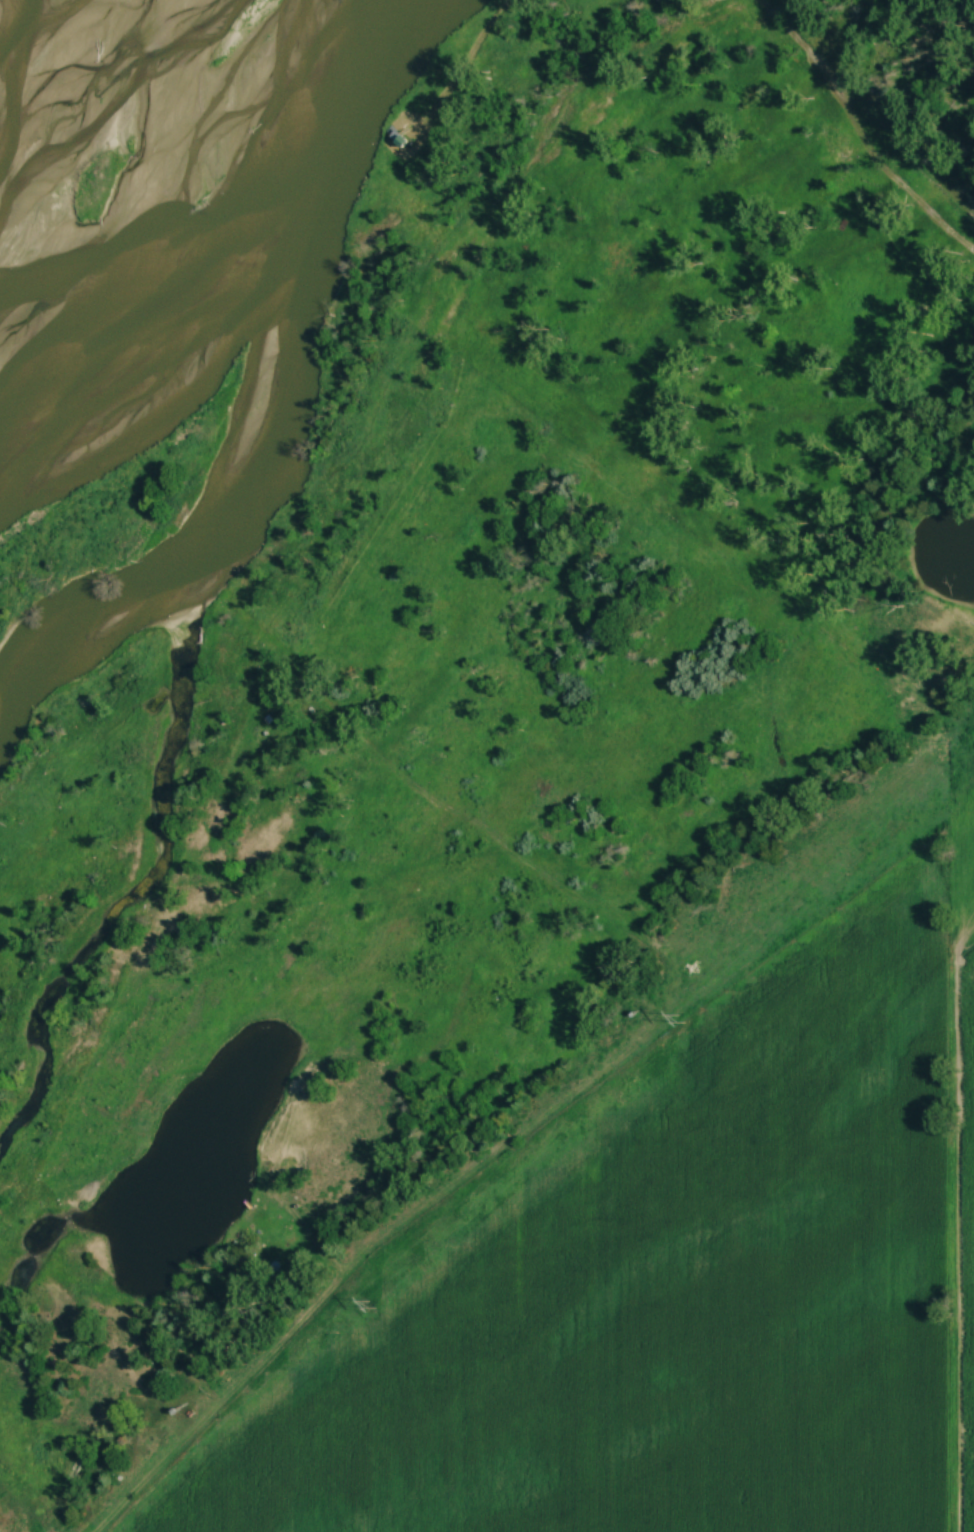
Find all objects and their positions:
river: (48, 52)
power tower: (680, 1018)
power tower: (370, 1304)

